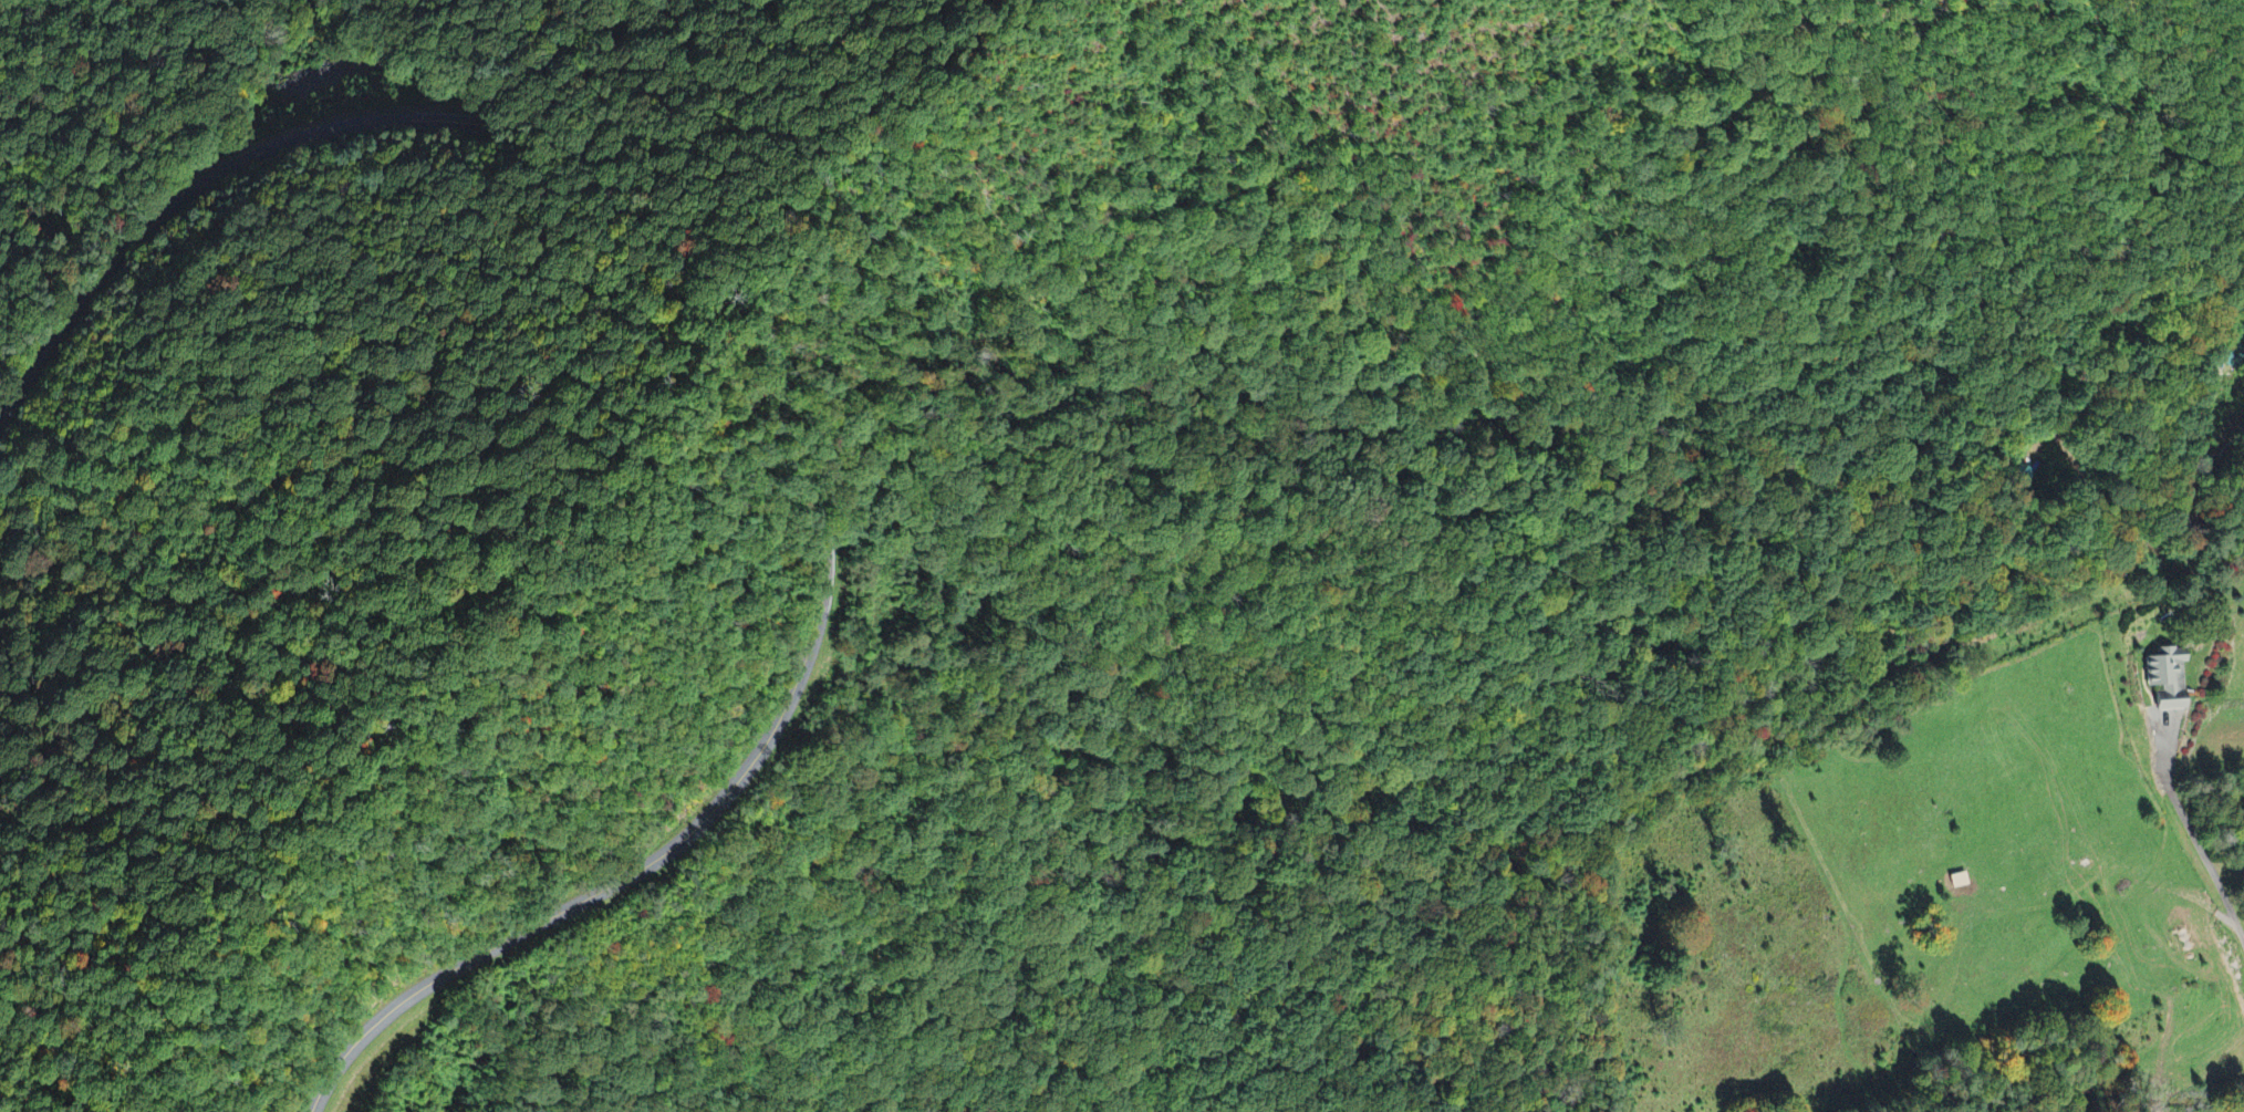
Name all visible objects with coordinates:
road: (194, 193)
road: (781, 246)
building: (2167, 677)
road: (2203, 852)
road: (635, 874)

